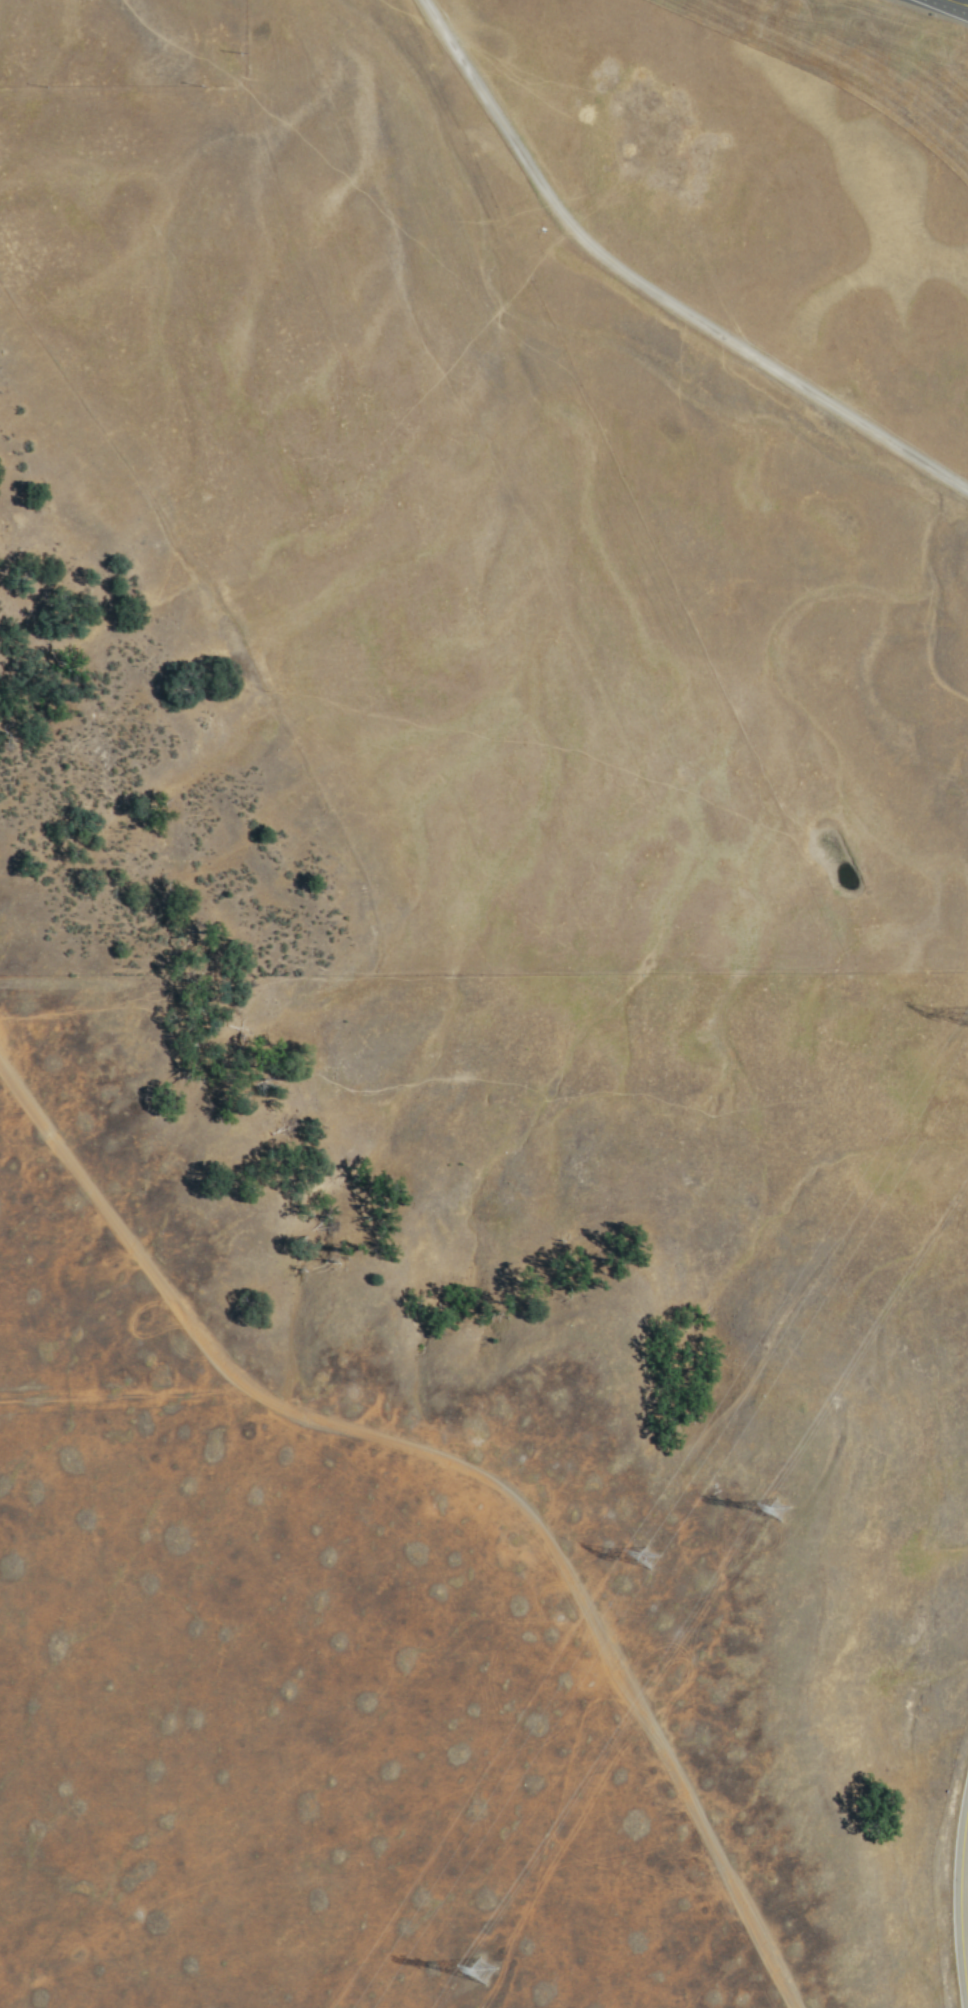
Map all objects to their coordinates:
road: (951, 5)
road: (651, 290)
power tower: (777, 1505)
power tower: (642, 1561)
road: (955, 1895)
power tower: (486, 1979)

